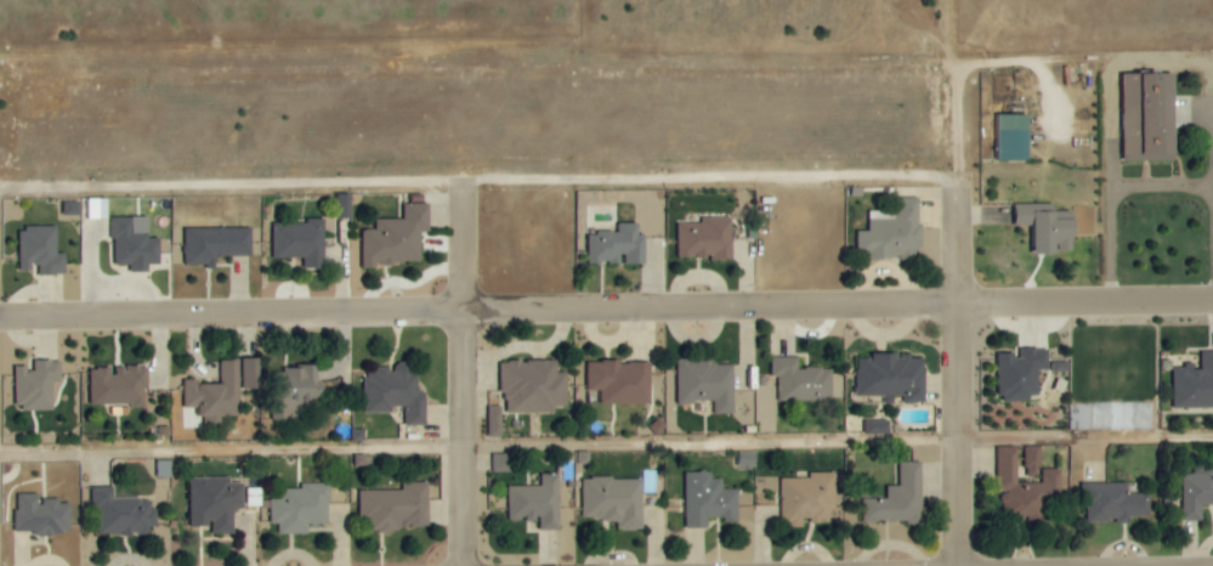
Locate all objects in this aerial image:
building: (1149, 118)
building: (1014, 136)
road: (724, 182)
road: (237, 186)
road: (1111, 197)
building: (98, 208)
building: (1049, 228)
building: (894, 232)
building: (397, 238)
building: (707, 238)
building: (301, 242)
building: (616, 243)
building: (216, 244)
building: (135, 245)
road: (474, 247)
building: (41, 250)
road: (606, 310)
building: (253, 373)
road: (968, 373)
building: (1021, 374)
building: (894, 377)
building: (803, 380)
building: (622, 381)
building: (708, 384)
building: (1194, 384)
building: (38, 385)
building: (299, 385)
building: (119, 386)
building: (533, 386)
building: (396, 392)
building: (217, 395)
building: (875, 428)
road: (474, 440)
road: (606, 447)
building: (1033, 460)
building: (503, 463)
building: (1026, 489)
building: (1196, 494)
building: (809, 498)
building: (899, 499)
building: (614, 500)
building: (708, 500)
building: (1113, 502)
building: (216, 503)
building: (537, 503)
building: (301, 508)
building: (396, 508)
building: (42, 515)
building: (120, 515)

